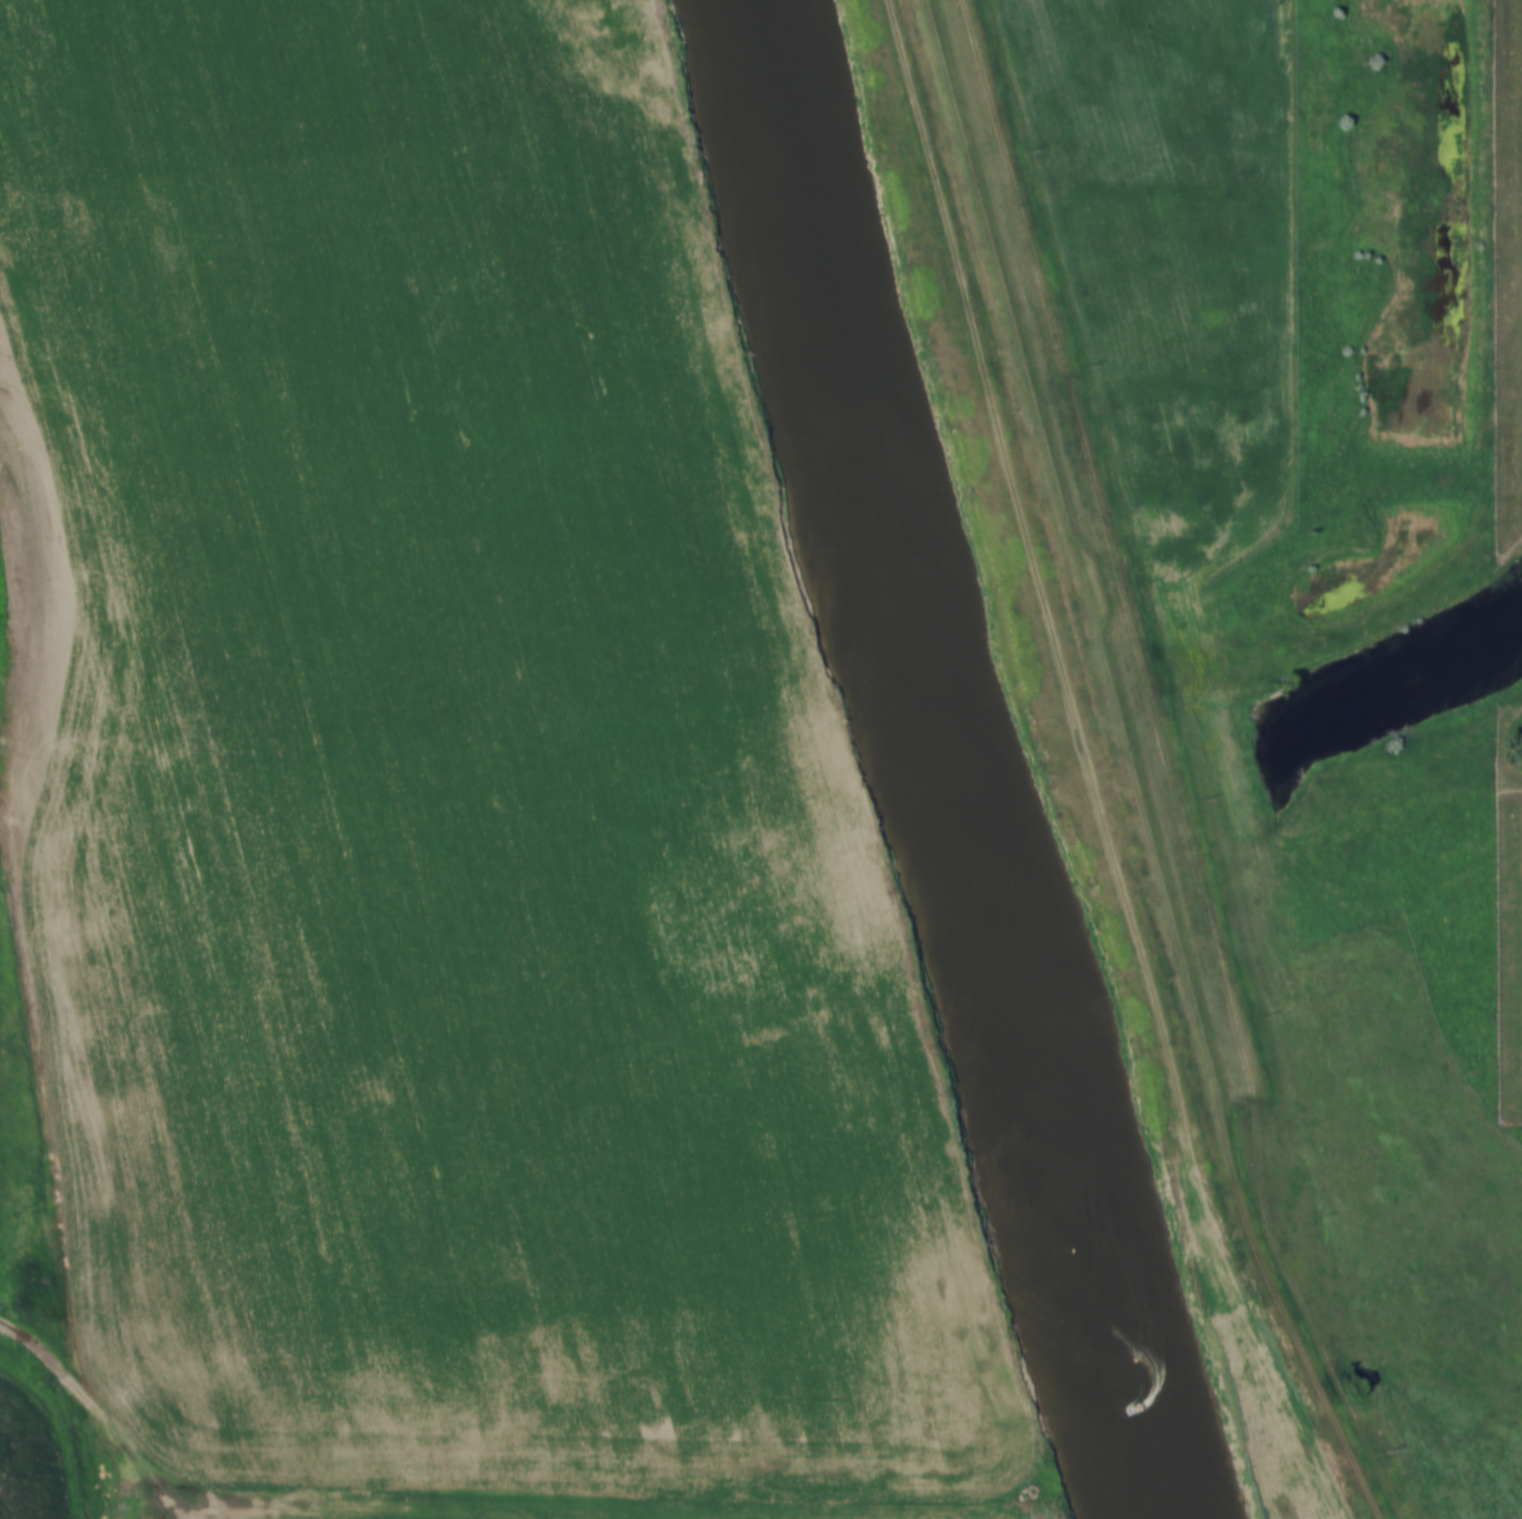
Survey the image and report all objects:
road: (826, 741)
river: (944, 765)
road: (77, 1393)

